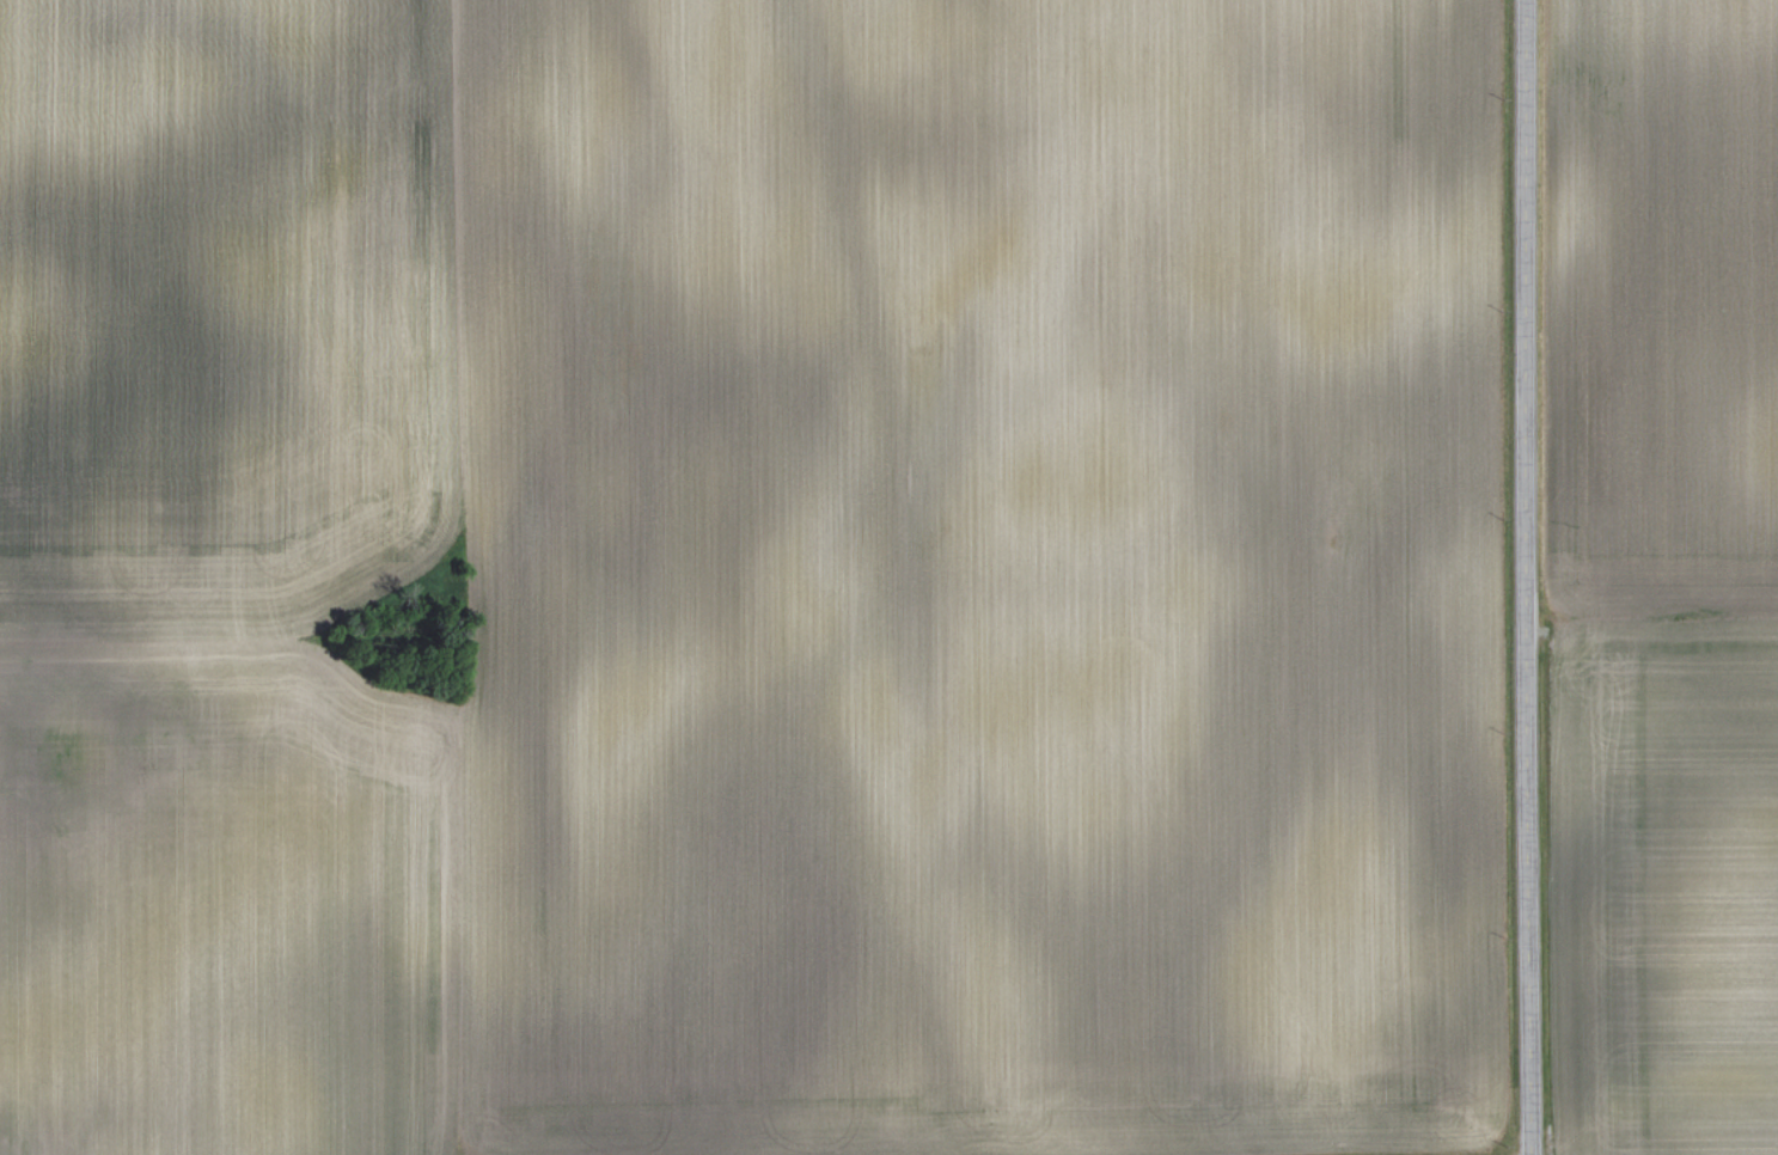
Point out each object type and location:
road: (1528, 577)

